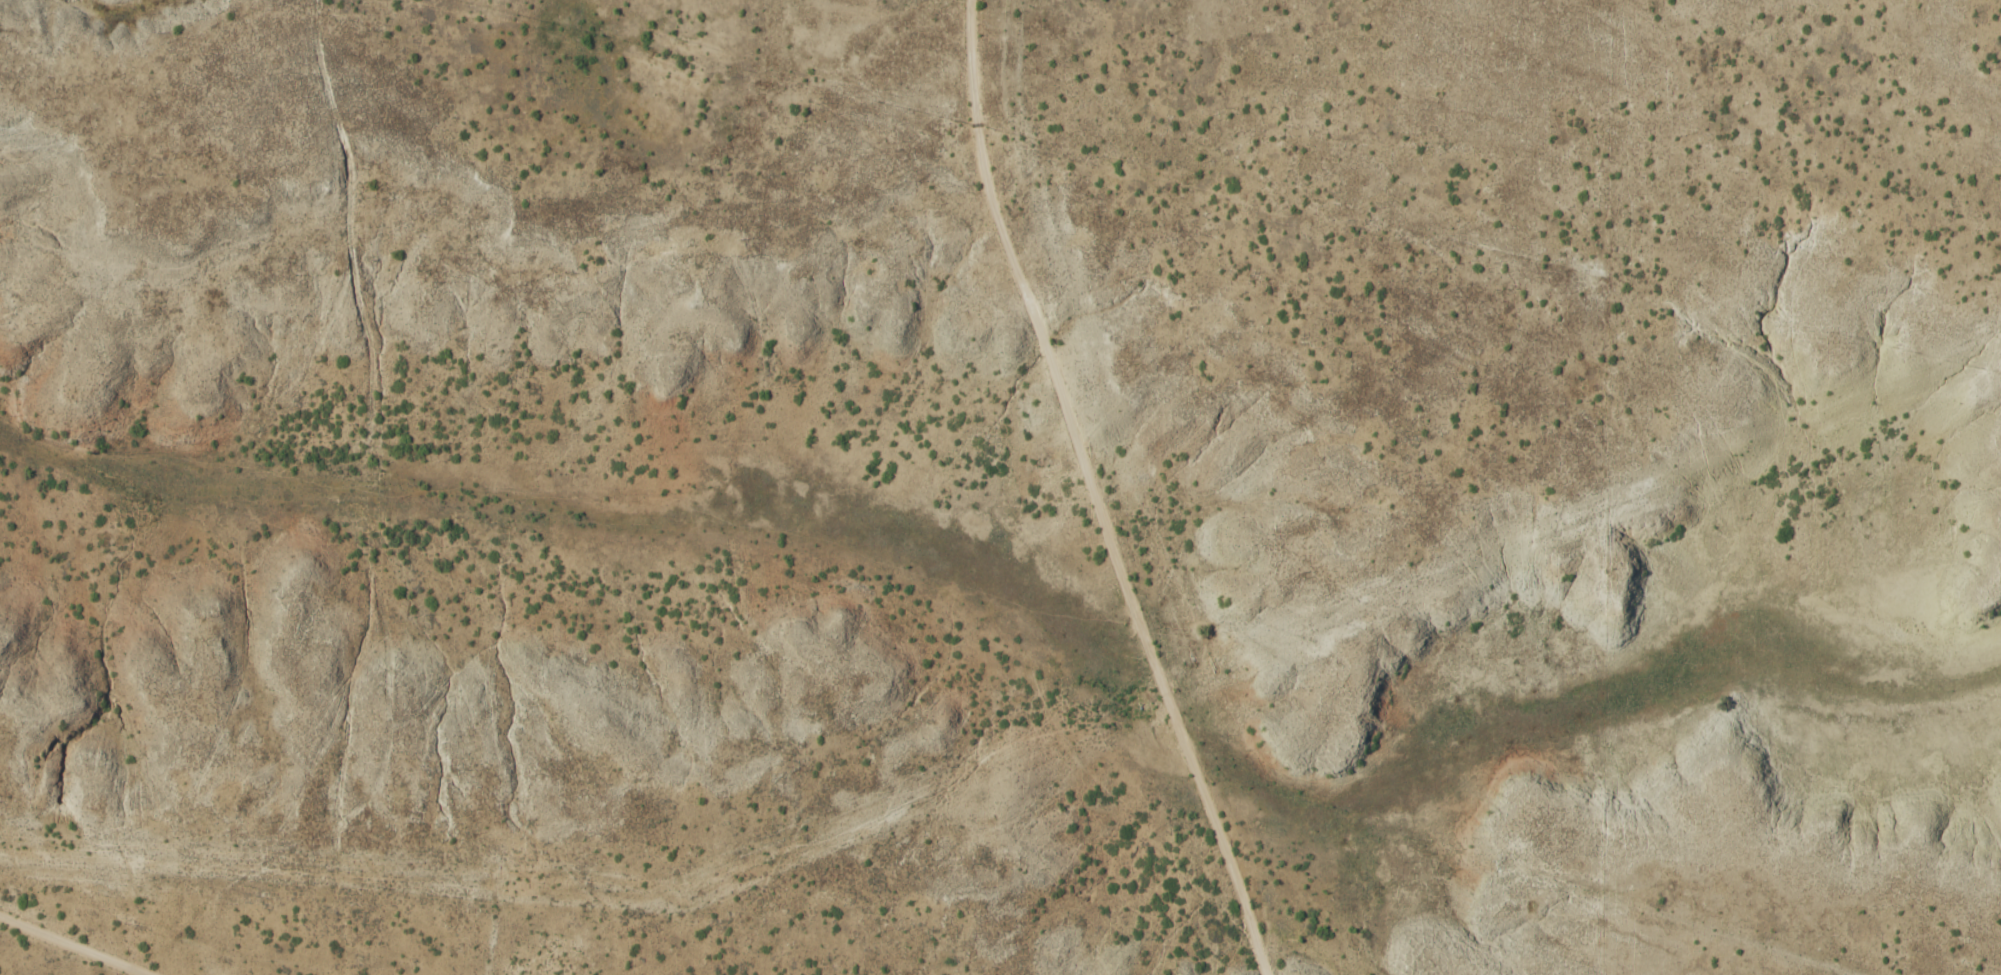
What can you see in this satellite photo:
road: (1096, 493)
road: (84, 940)

